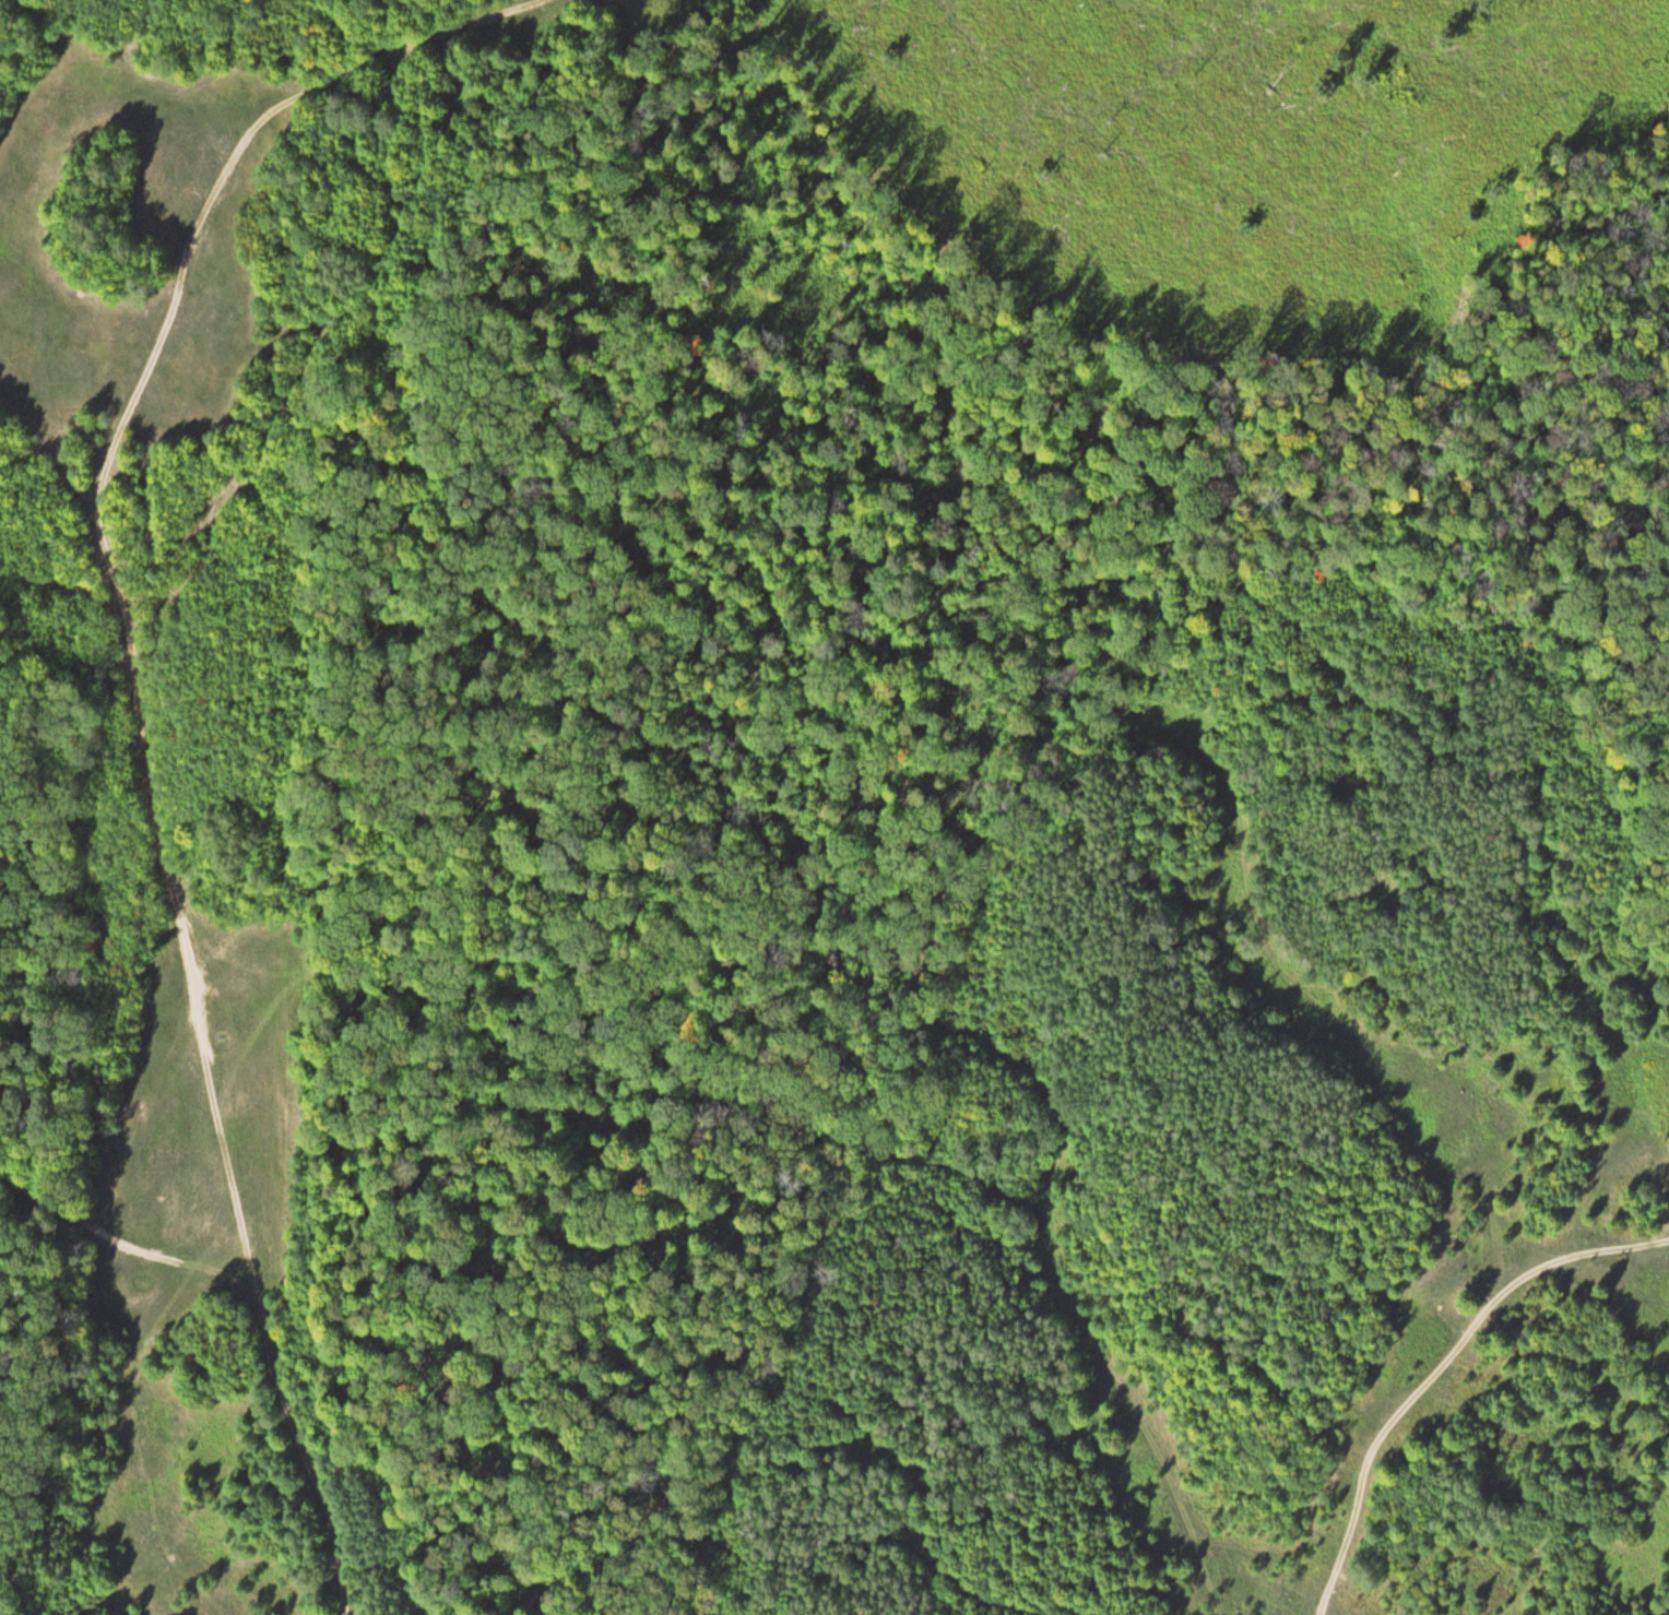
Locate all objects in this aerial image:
road: (137, 706)
road: (130, 1245)
road: (1436, 1370)

